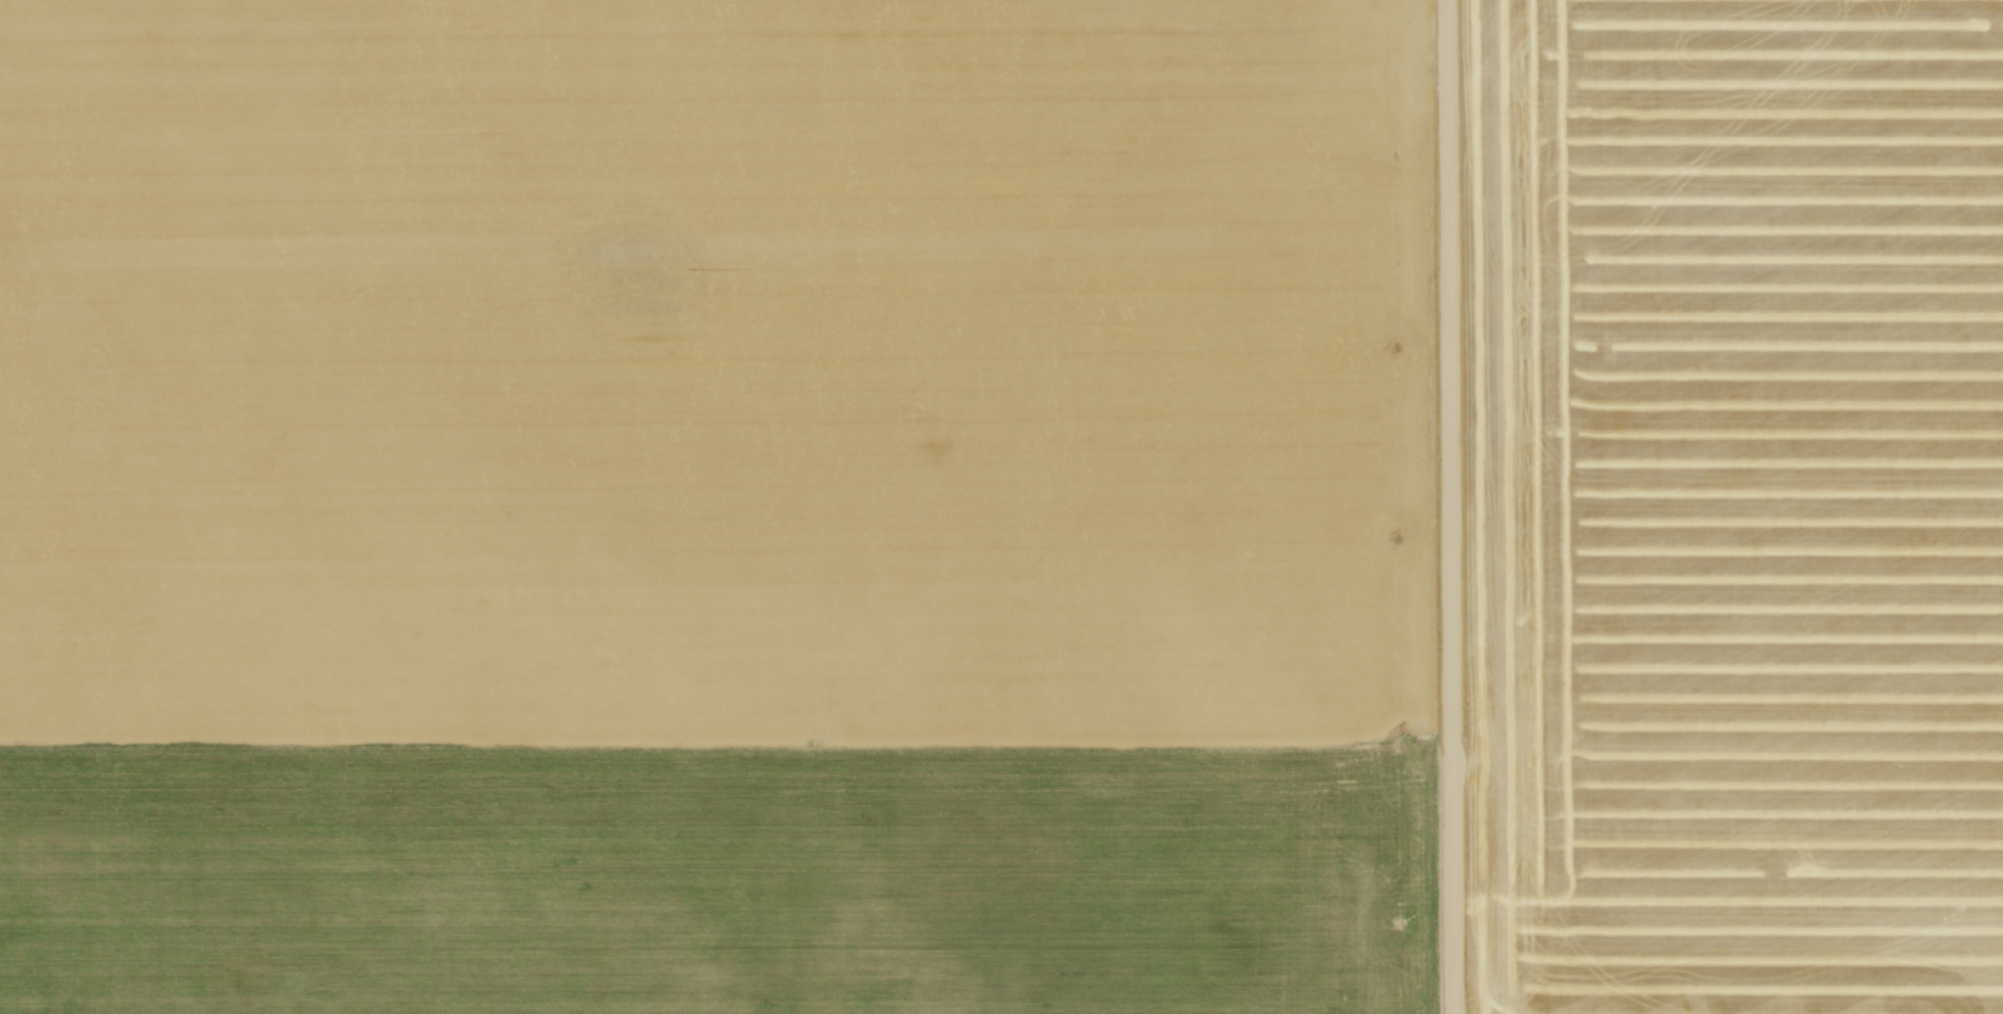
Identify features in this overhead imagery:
crop: (1738, 506)
crop: (717, 507)
road: (1450, 507)

